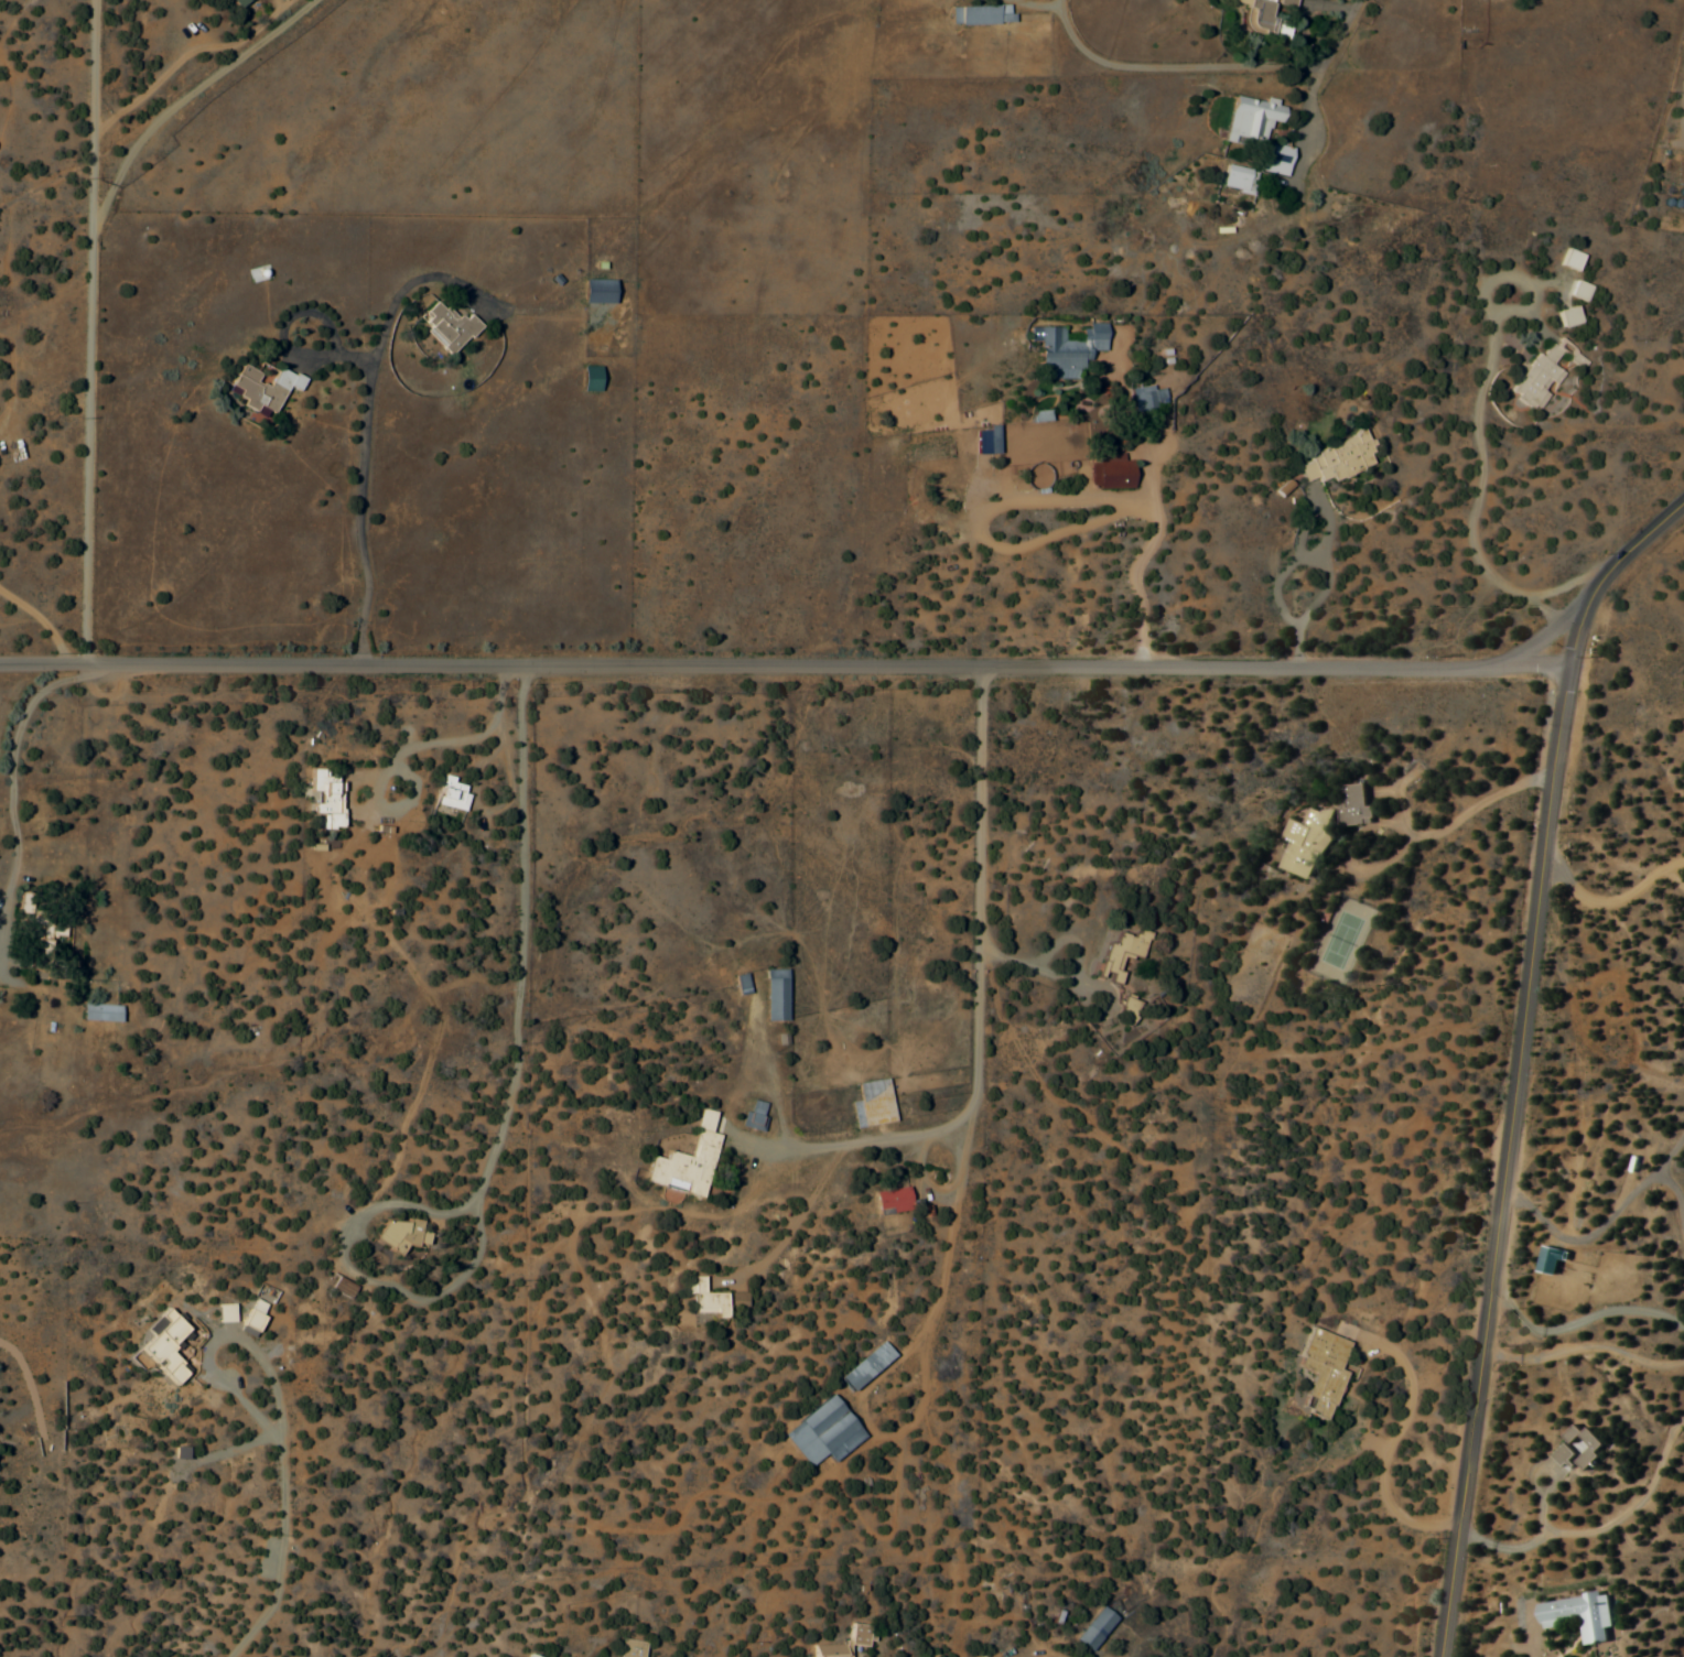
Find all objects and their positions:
building: (238, 2)
building: (1286, 2)
building: (980, 14)
building: (1261, 18)
road: (1310, 94)
road: (187, 99)
building: (1251, 120)
building: (1276, 159)
building: (1238, 178)
building: (1570, 259)
building: (1580, 290)
building: (597, 291)
building: (1569, 316)
building: (446, 327)
road: (93, 331)
building: (1068, 349)
building: (1544, 371)
building: (590, 378)
building: (263, 388)
building: (1147, 398)
building: (1334, 461)
building: (1113, 470)
road: (1156, 551)
road: (1542, 636)
road: (782, 662)
building: (323, 791)
building: (451, 792)
building: (1357, 805)
road: (980, 814)
building: (1308, 840)
road: (1606, 899)
building: (37, 917)
park: (1351, 936)
road: (532, 939)
building: (1120, 952)
building: (738, 984)
building: (773, 995)
building: (100, 1010)
road: (1515, 1058)
building: (870, 1104)
building: (624, 1115)
building: (752, 1115)
building: (1196, 1135)
building: (681, 1159)
building: (889, 1201)
building: (396, 1234)
building: (702, 1300)
road: (1580, 1351)
building: (863, 1366)
building: (1318, 1371)
building: (820, 1432)
building: (1575, 1448)
building: (1576, 1615)
building: (1092, 1629)
building: (855, 1635)
building: (628, 1648)

